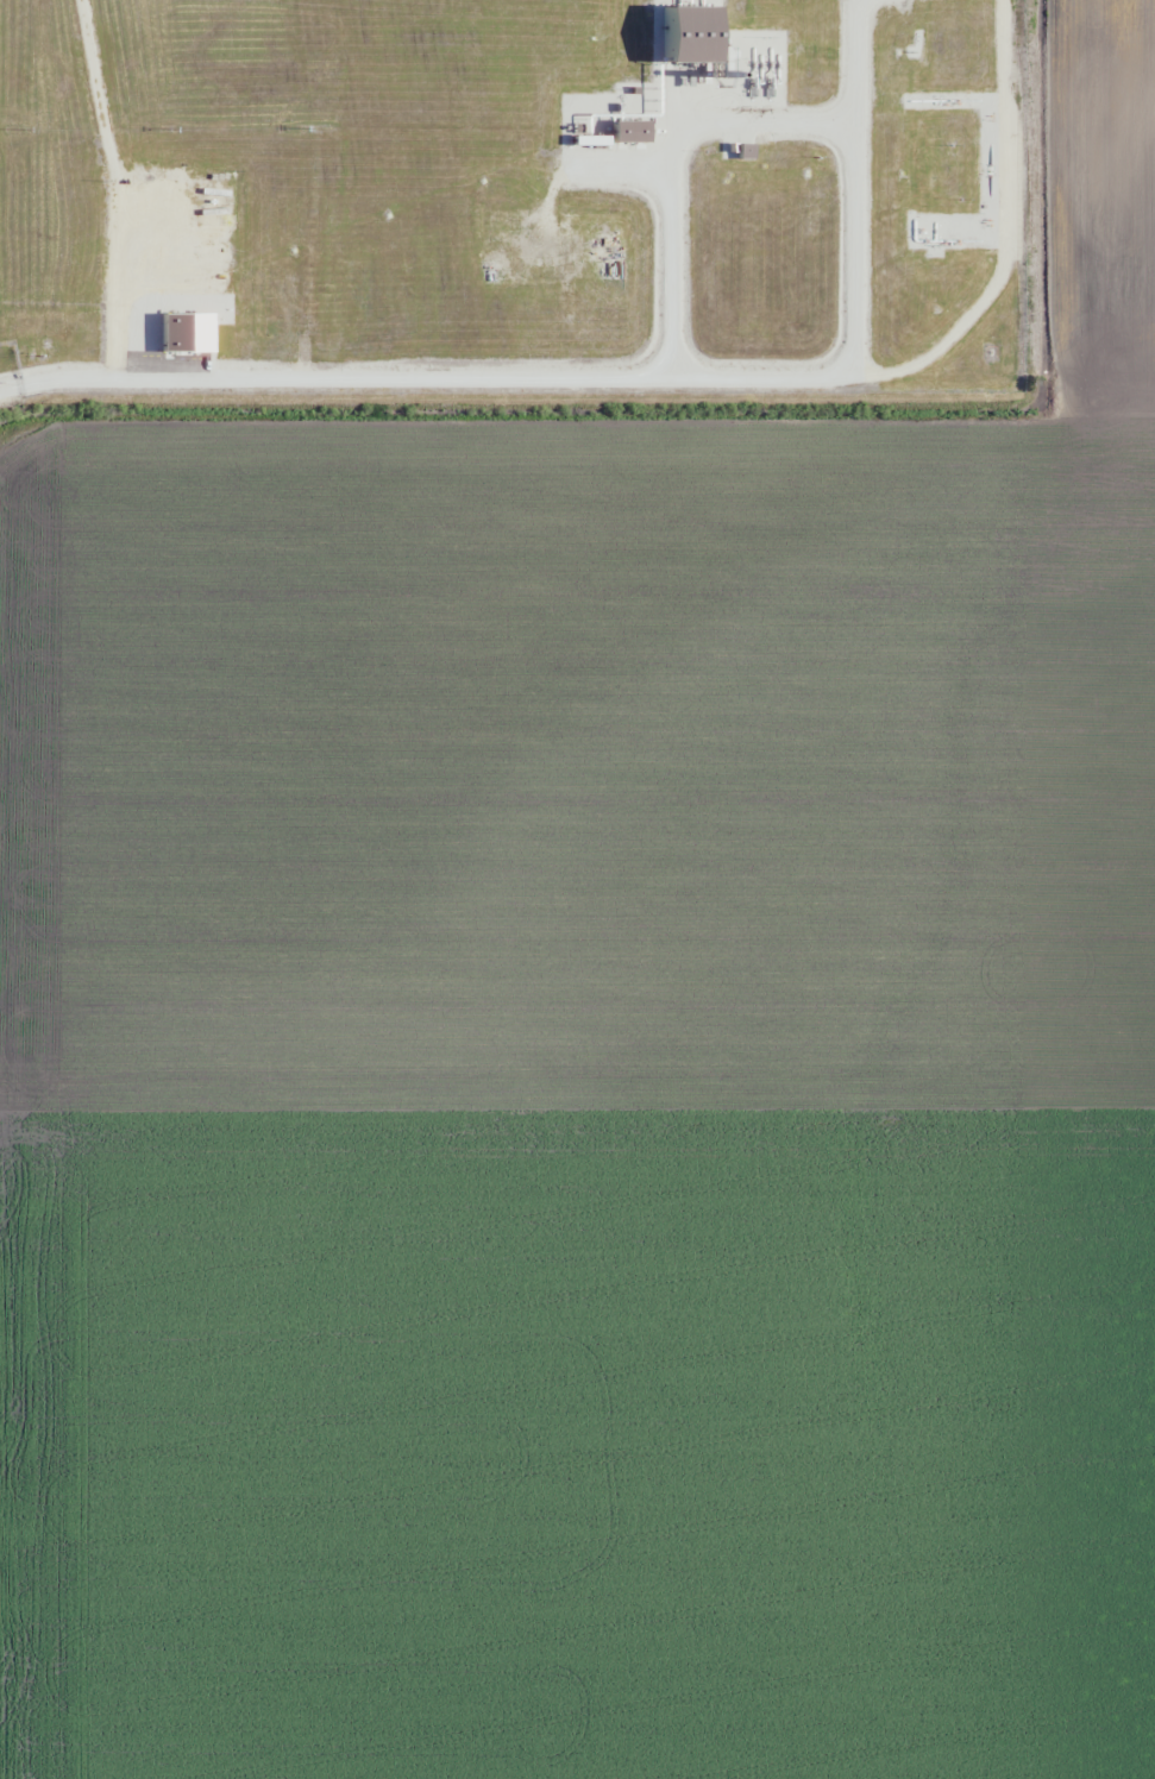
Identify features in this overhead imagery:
road: (994, 95)

